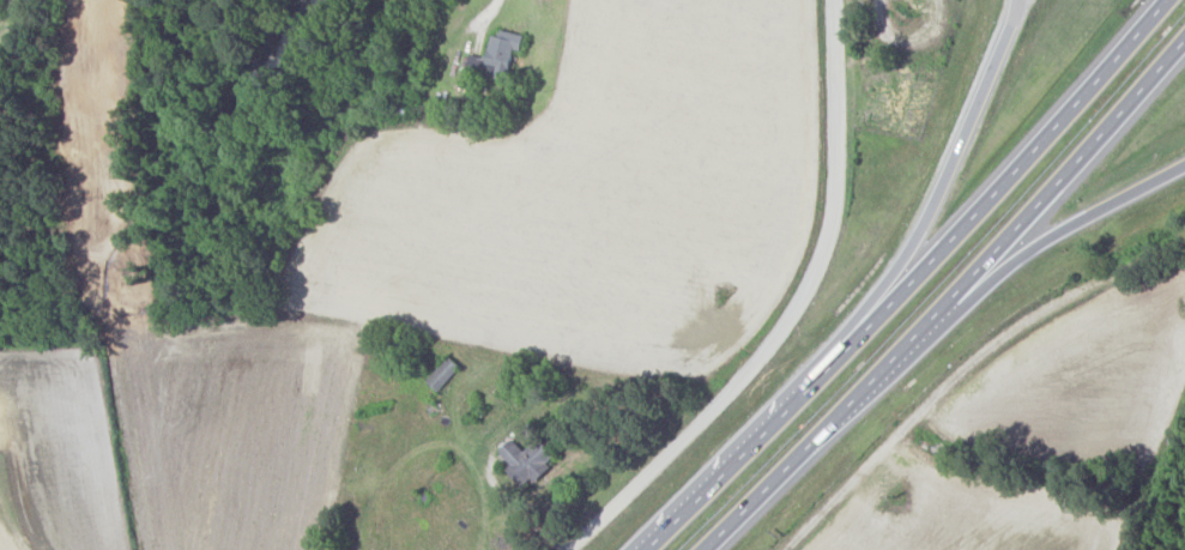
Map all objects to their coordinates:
road: (490, 10)
building: (497, 54)
road: (941, 192)
road: (1041, 249)
road: (912, 277)
road: (953, 302)
road: (797, 314)
building: (443, 374)
building: (528, 460)

